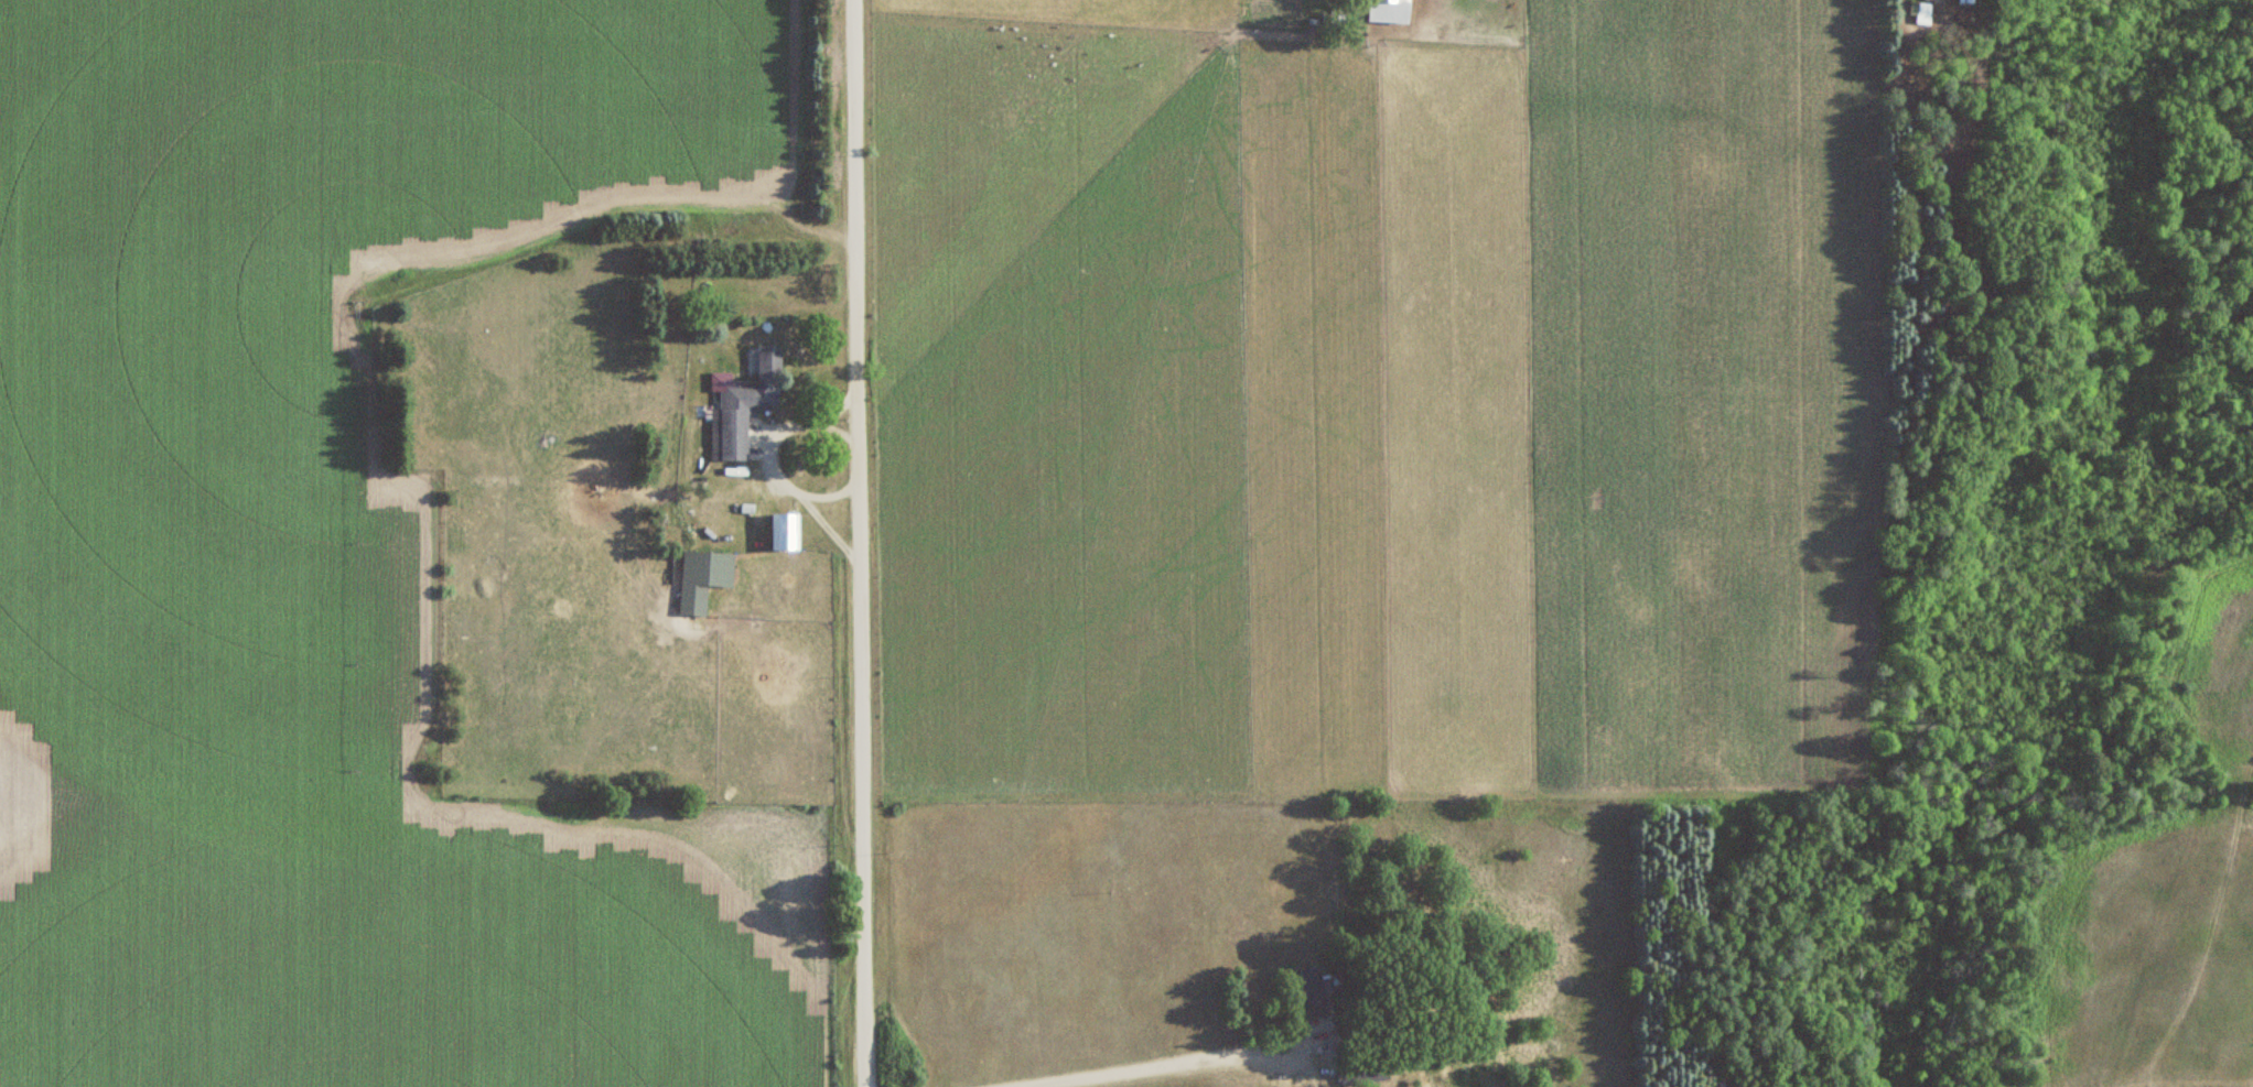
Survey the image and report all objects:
building: (1390, 11)
building: (747, 403)
building: (785, 533)
road: (855, 543)
building: (702, 579)
building: (1314, 991)
road: (1145, 1064)

